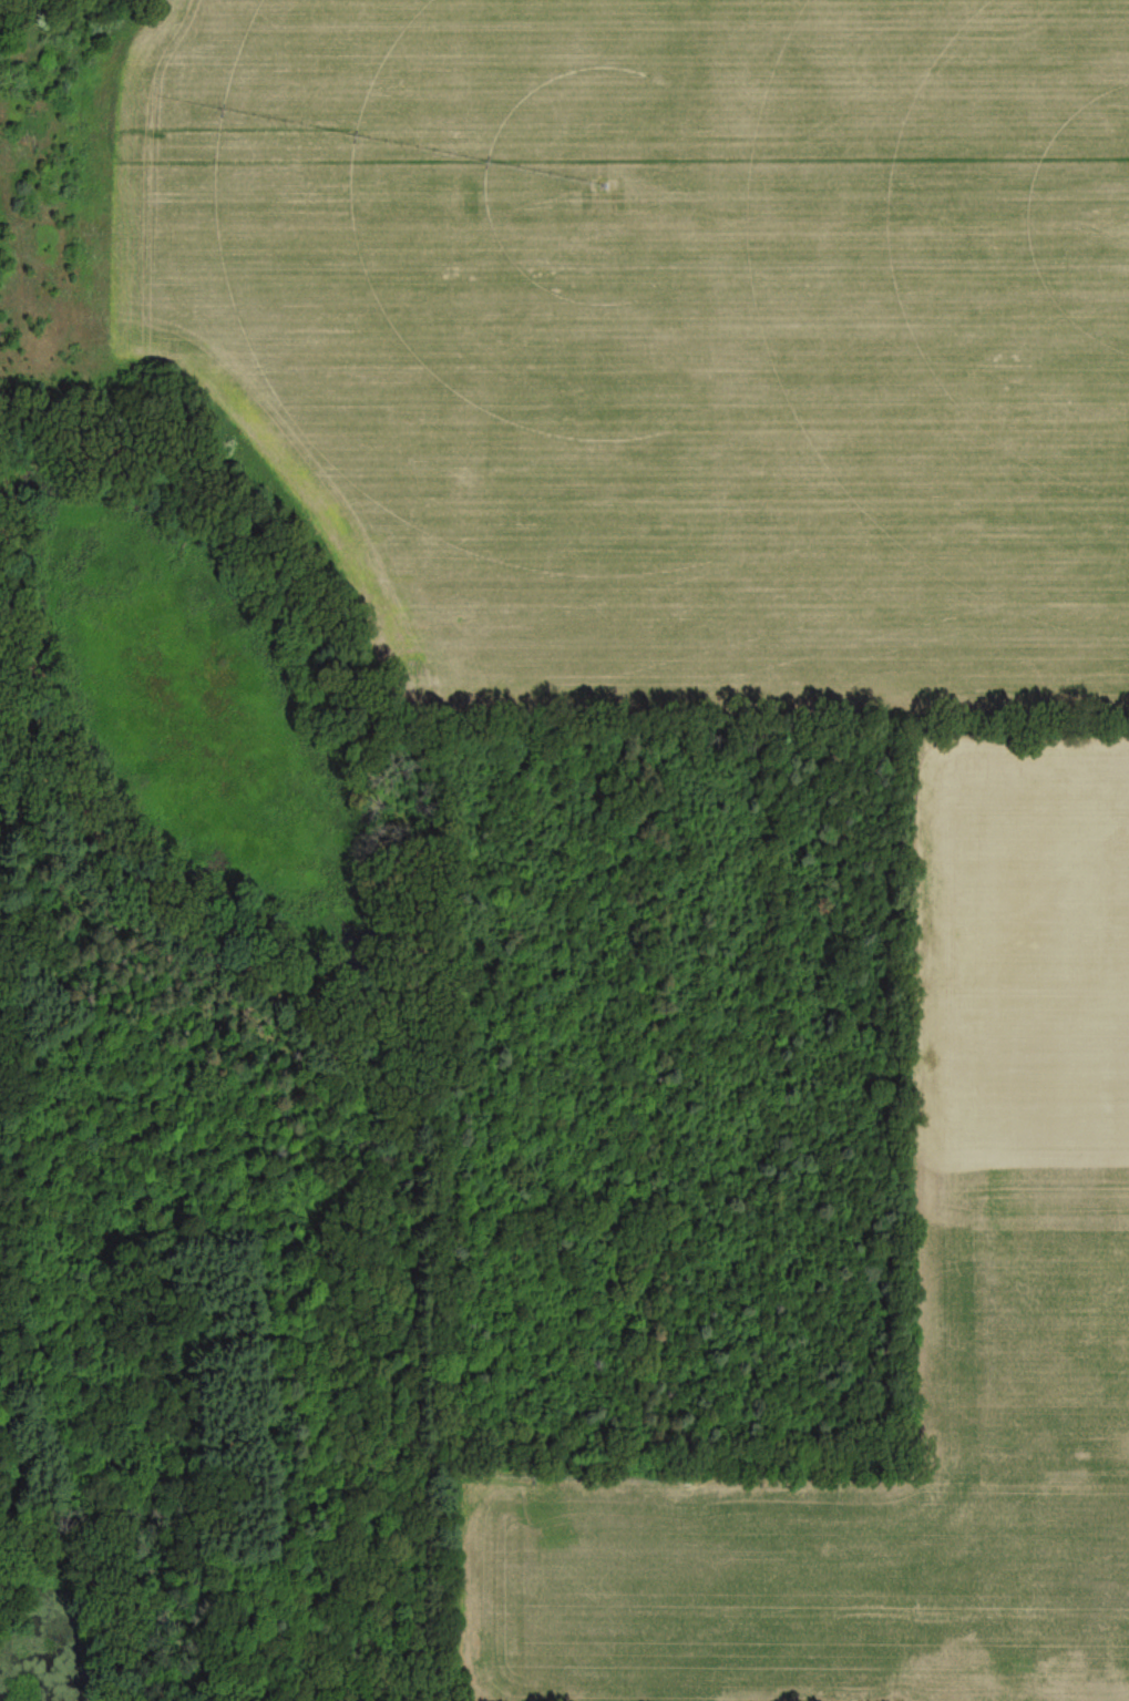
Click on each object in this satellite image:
crop: (742, 653)

